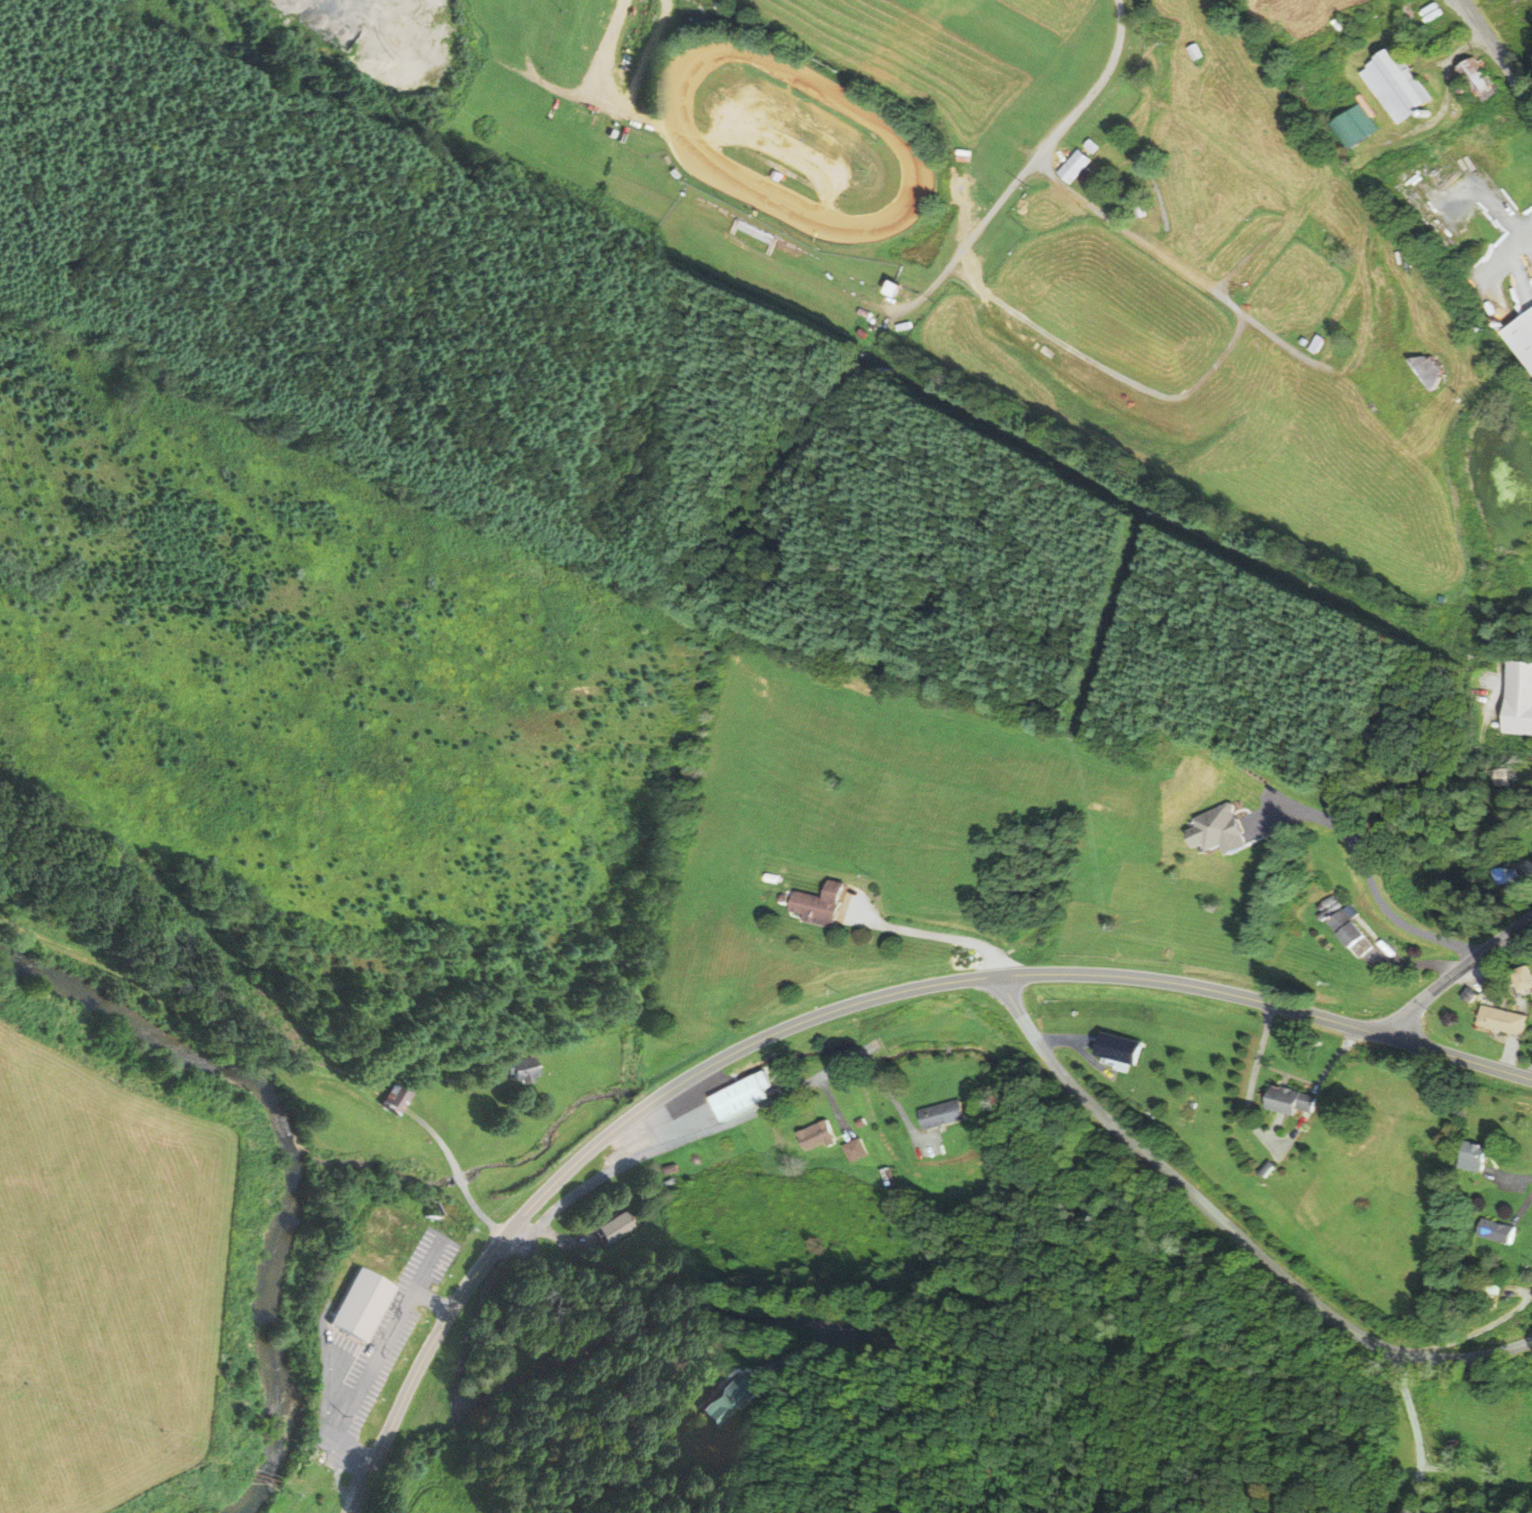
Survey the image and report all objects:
road: (1497, 52)
building: (1477, 77)
road: (1095, 88)
building: (1397, 88)
building: (1356, 127)
building: (1092, 147)
raceway: (690, 166)
building: (1074, 168)
building: (1032, 210)
building: (892, 291)
building: (1356, 313)
building: (1522, 338)
building: (1426, 373)
road: (1165, 395)
building: (1518, 701)
building: (1221, 829)
building: (1508, 877)
building: (822, 904)
building: (1350, 927)
road: (934, 934)
road: (1457, 971)
building: (1522, 978)
road: (832, 1011)
building: (1501, 1020)
river: (166, 1037)
road: (1080, 1047)
building: (1122, 1048)
building: (522, 1068)
building: (525, 1076)
building: (744, 1096)
building: (398, 1098)
building: (1291, 1100)
road: (896, 1102)
road: (834, 1108)
building: (944, 1114)
building: (861, 1122)
building: (818, 1135)
road: (693, 1136)
building: (855, 1149)
building: (1473, 1156)
building: (670, 1168)
road: (459, 1174)
building: (888, 1176)
road: (1531, 1177)
building: (670, 1182)
building: (619, 1226)
road: (1231, 1229)
building: (1497, 1230)
road: (567, 1239)
building: (1475, 1288)
building: (360, 1305)
road: (1475, 1332)
river: (269, 1342)
road: (800, 1356)
road: (565, 1361)
building: (730, 1398)
road: (1415, 1429)

